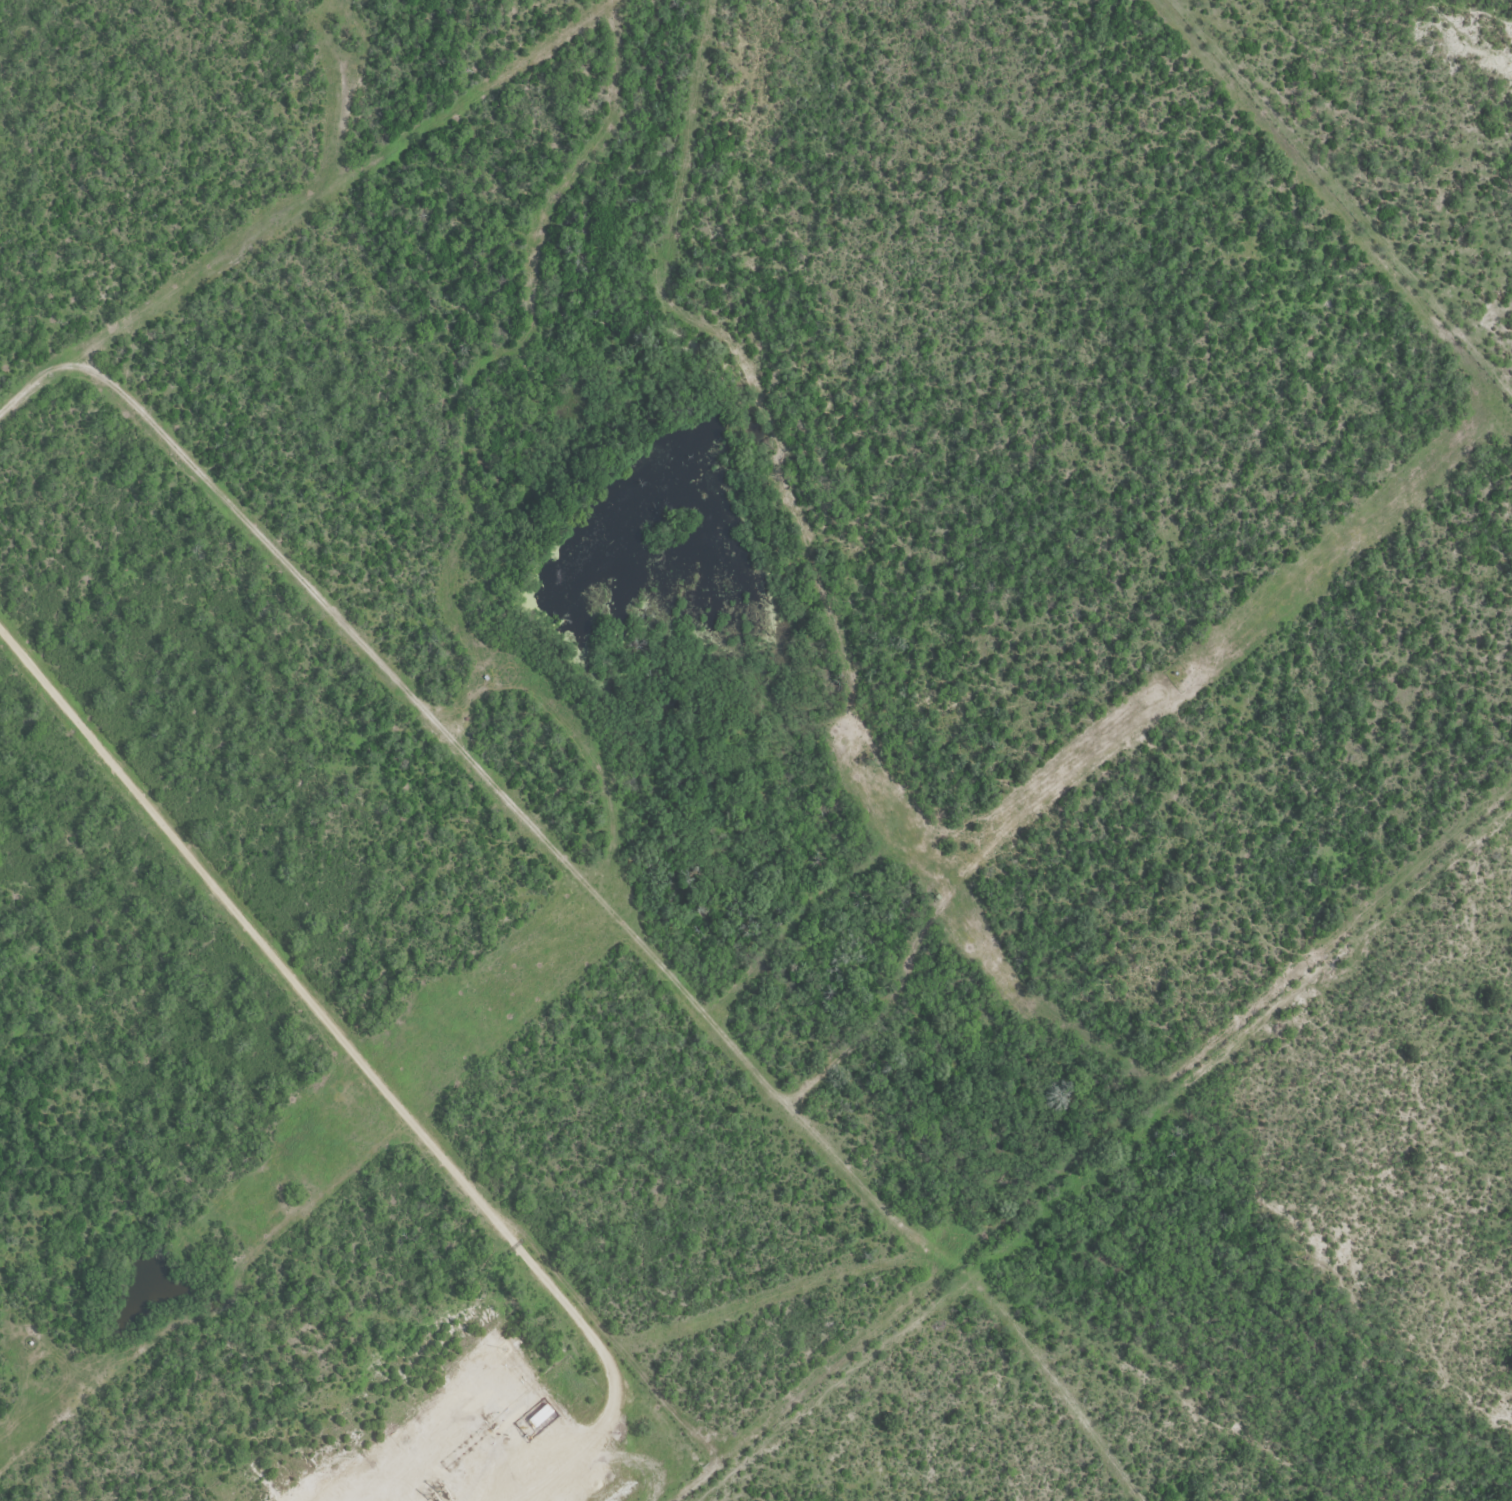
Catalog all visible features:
road: (346, 1022)

